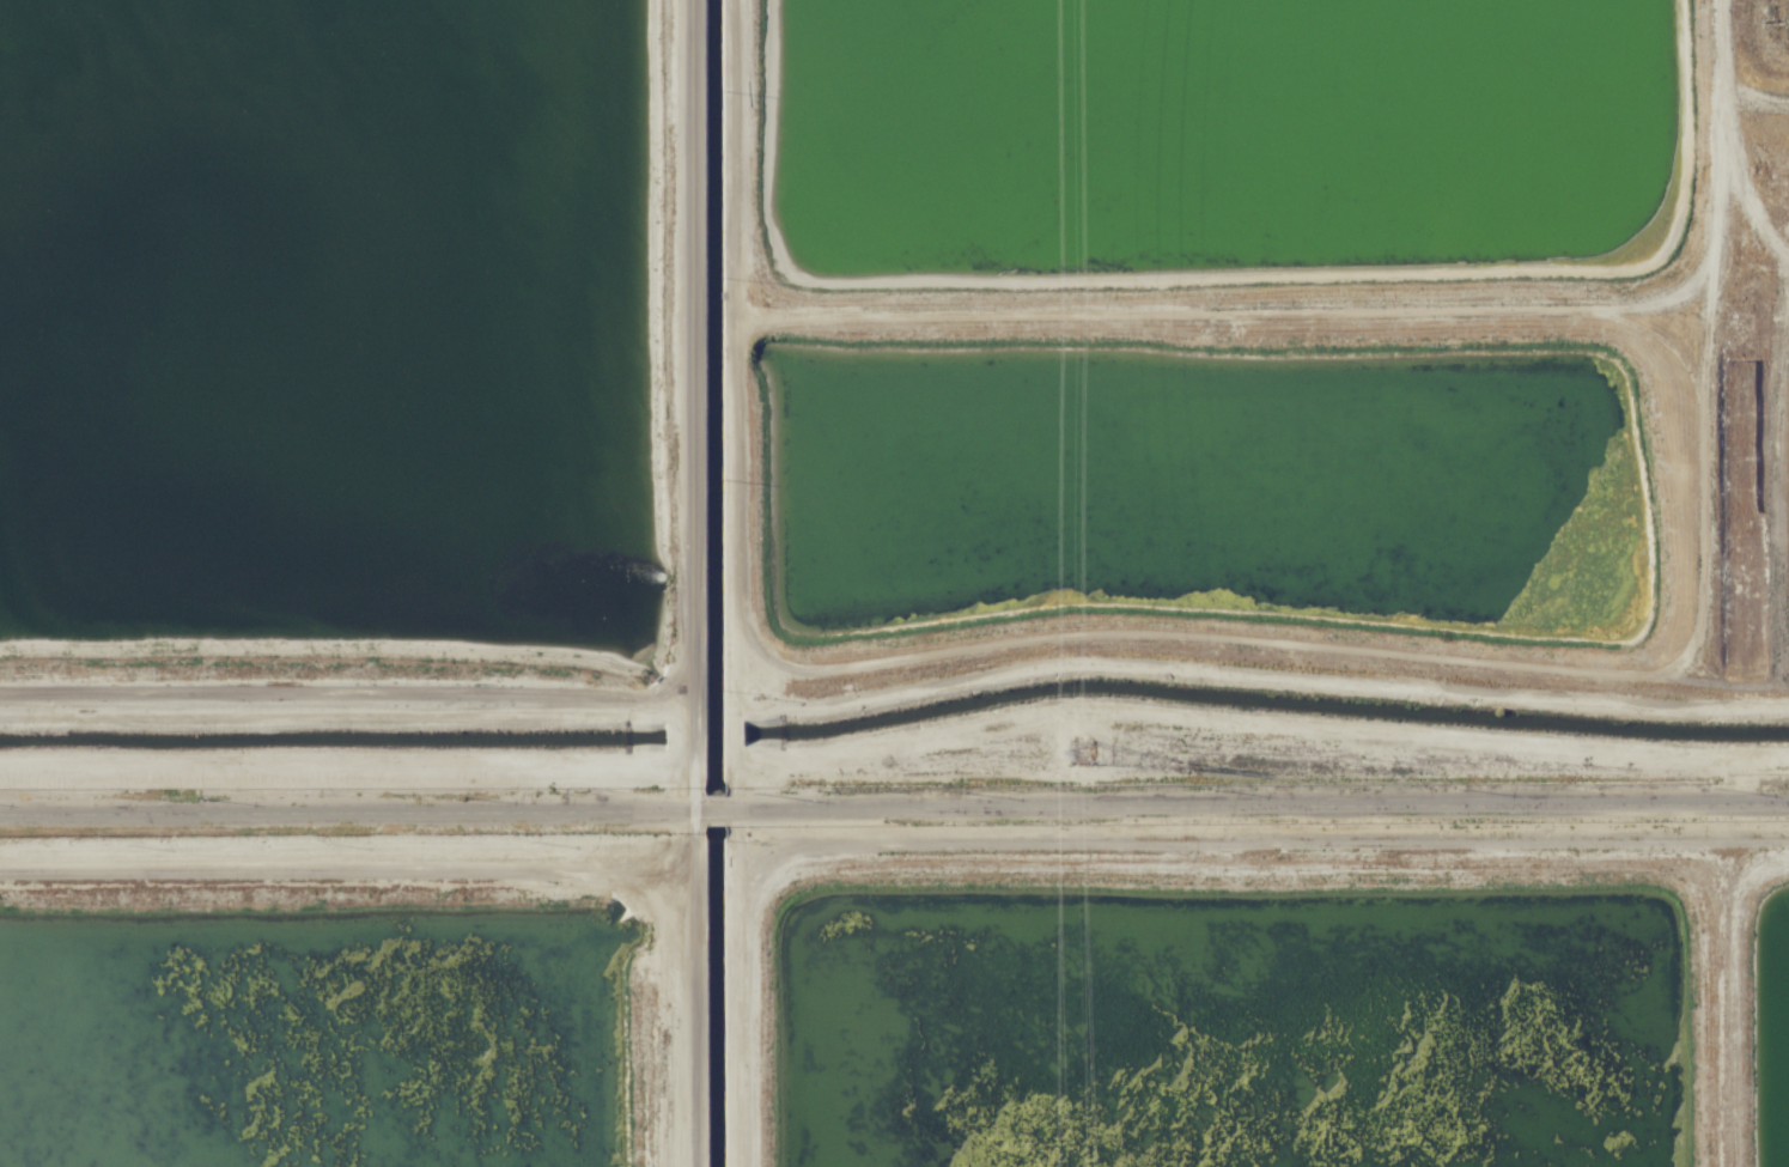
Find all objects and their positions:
wastewater plant: (1770, 34)
wastewater plant: (1225, 120)
wastewater plant: (1773, 225)
wastewater plant: (325, 321)
road: (688, 393)
wastewater plant: (1154, 500)
wastewater plant: (894, 583)
road: (323, 688)
road: (668, 694)
power tower: (1079, 750)
road: (346, 770)
road: (694, 807)
road: (894, 810)
road: (1100, 838)
road: (692, 863)
road: (320, 865)
road: (665, 875)
road: (688, 919)
road: (1716, 1001)
wastewater plant: (1230, 1013)
wastewater plant: (1771, 1013)
wastewater plant: (315, 1037)
road: (689, 1053)

